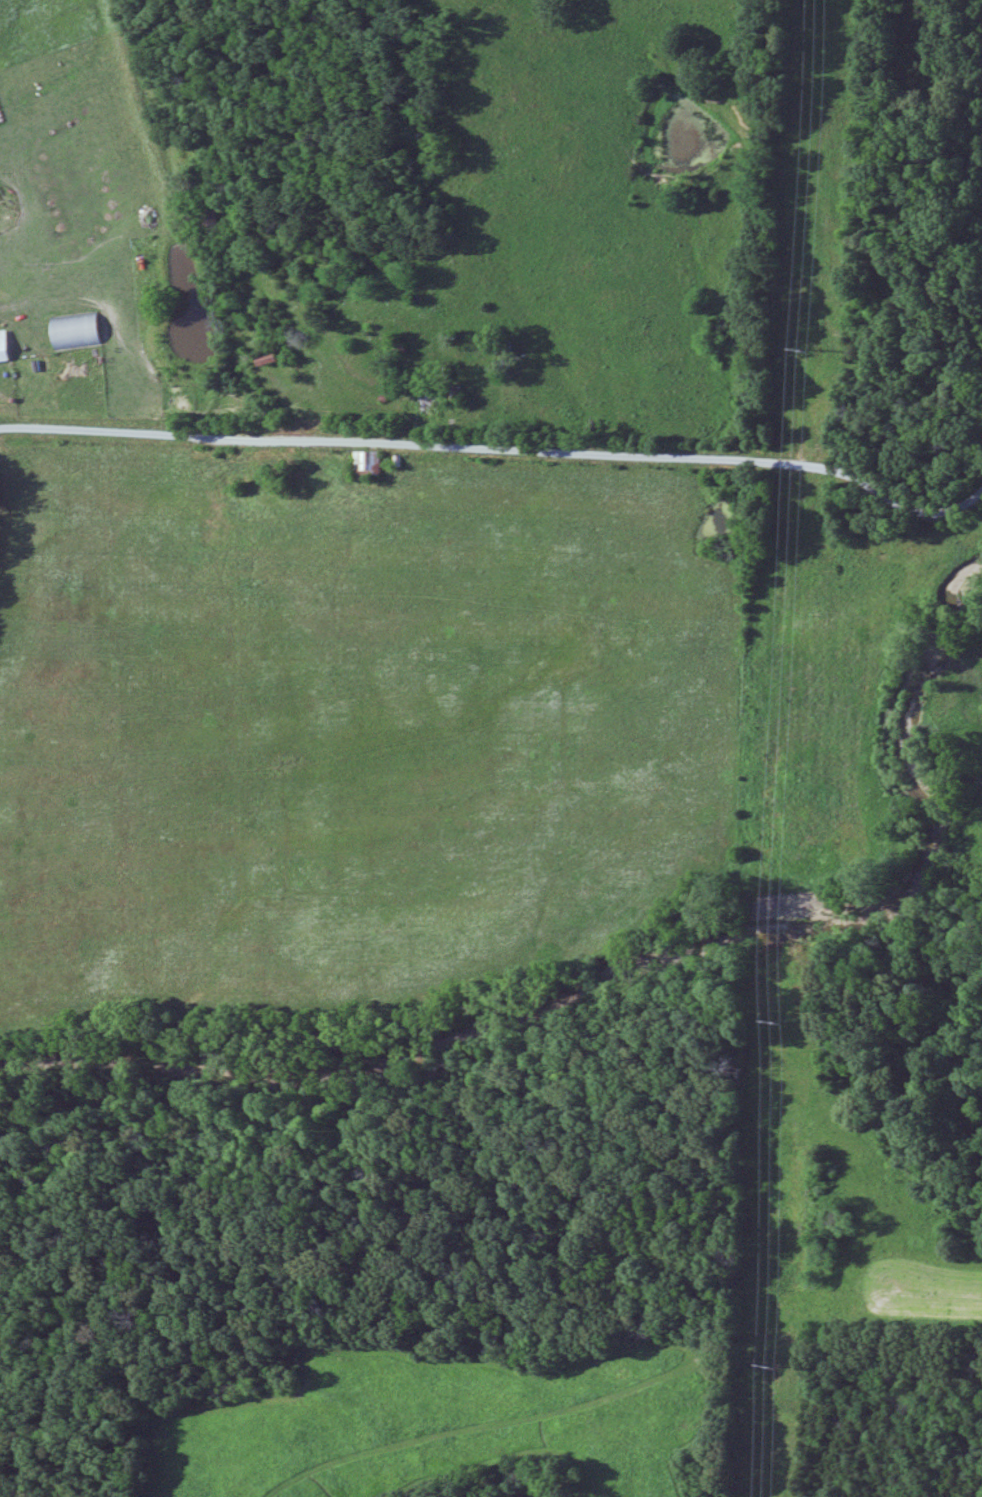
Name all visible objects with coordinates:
power tower: (803, 346)
building: (6, 348)
building: (433, 405)
road: (500, 447)
building: (370, 465)
power tower: (779, 1020)
power tower: (768, 1362)

